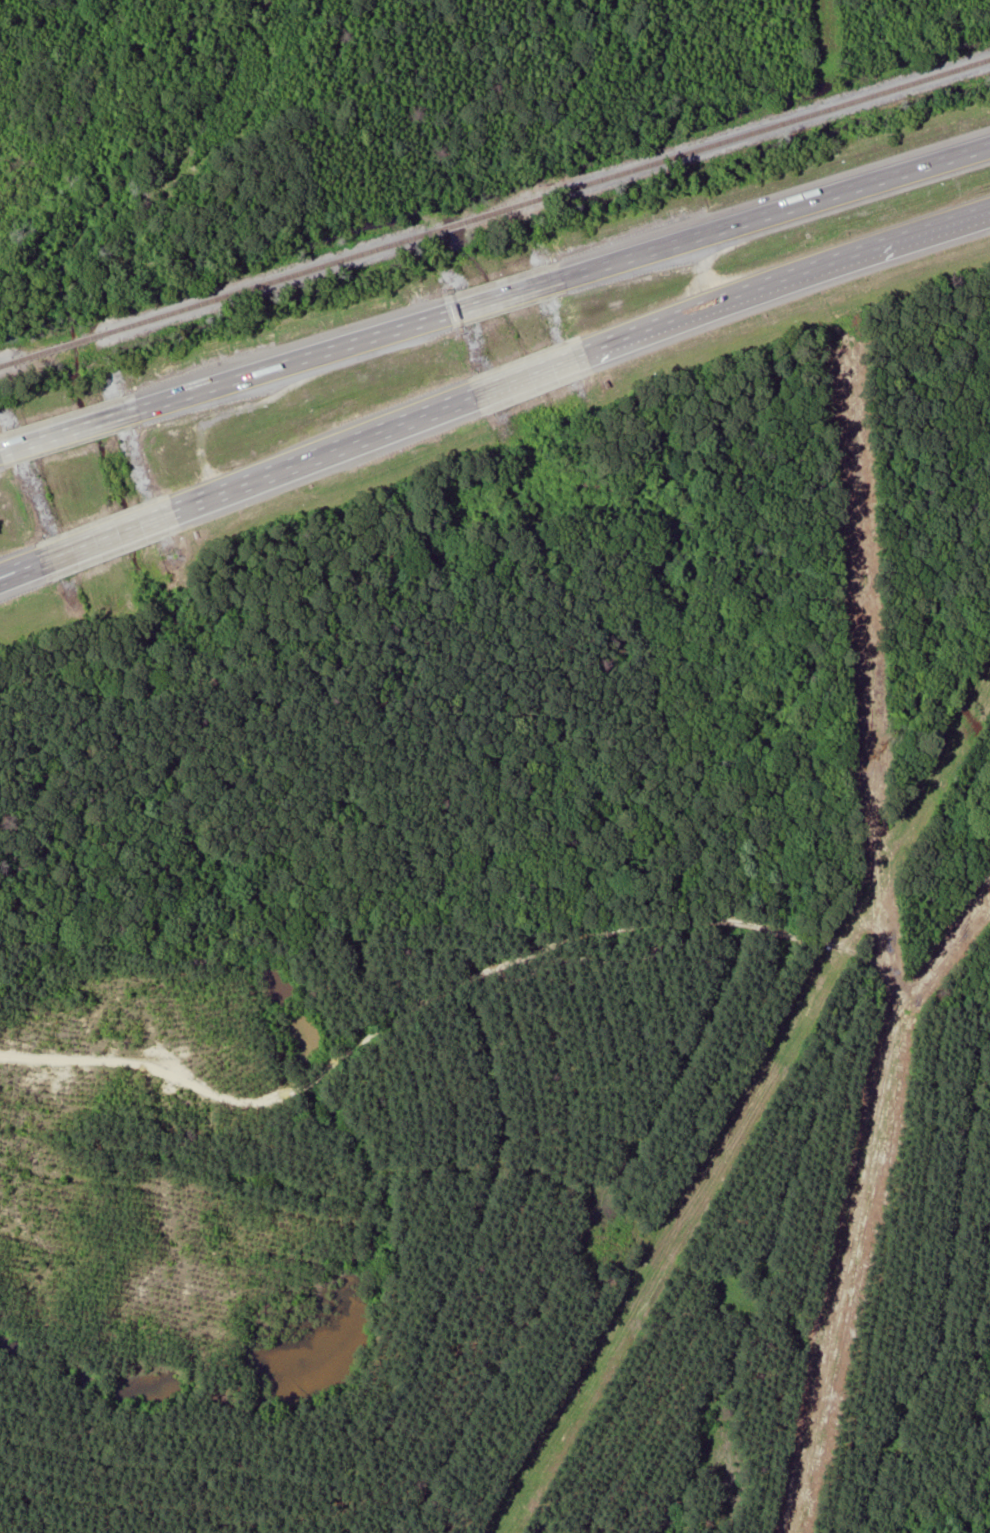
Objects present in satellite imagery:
road: (778, 211)
railway: (495, 213)
road: (868, 250)
road: (508, 295)
road: (667, 322)
road: (295, 361)
road: (531, 373)
road: (71, 431)
road: (325, 452)
road: (110, 535)
road: (24, 568)
road: (2, 575)
road: (2, 576)

